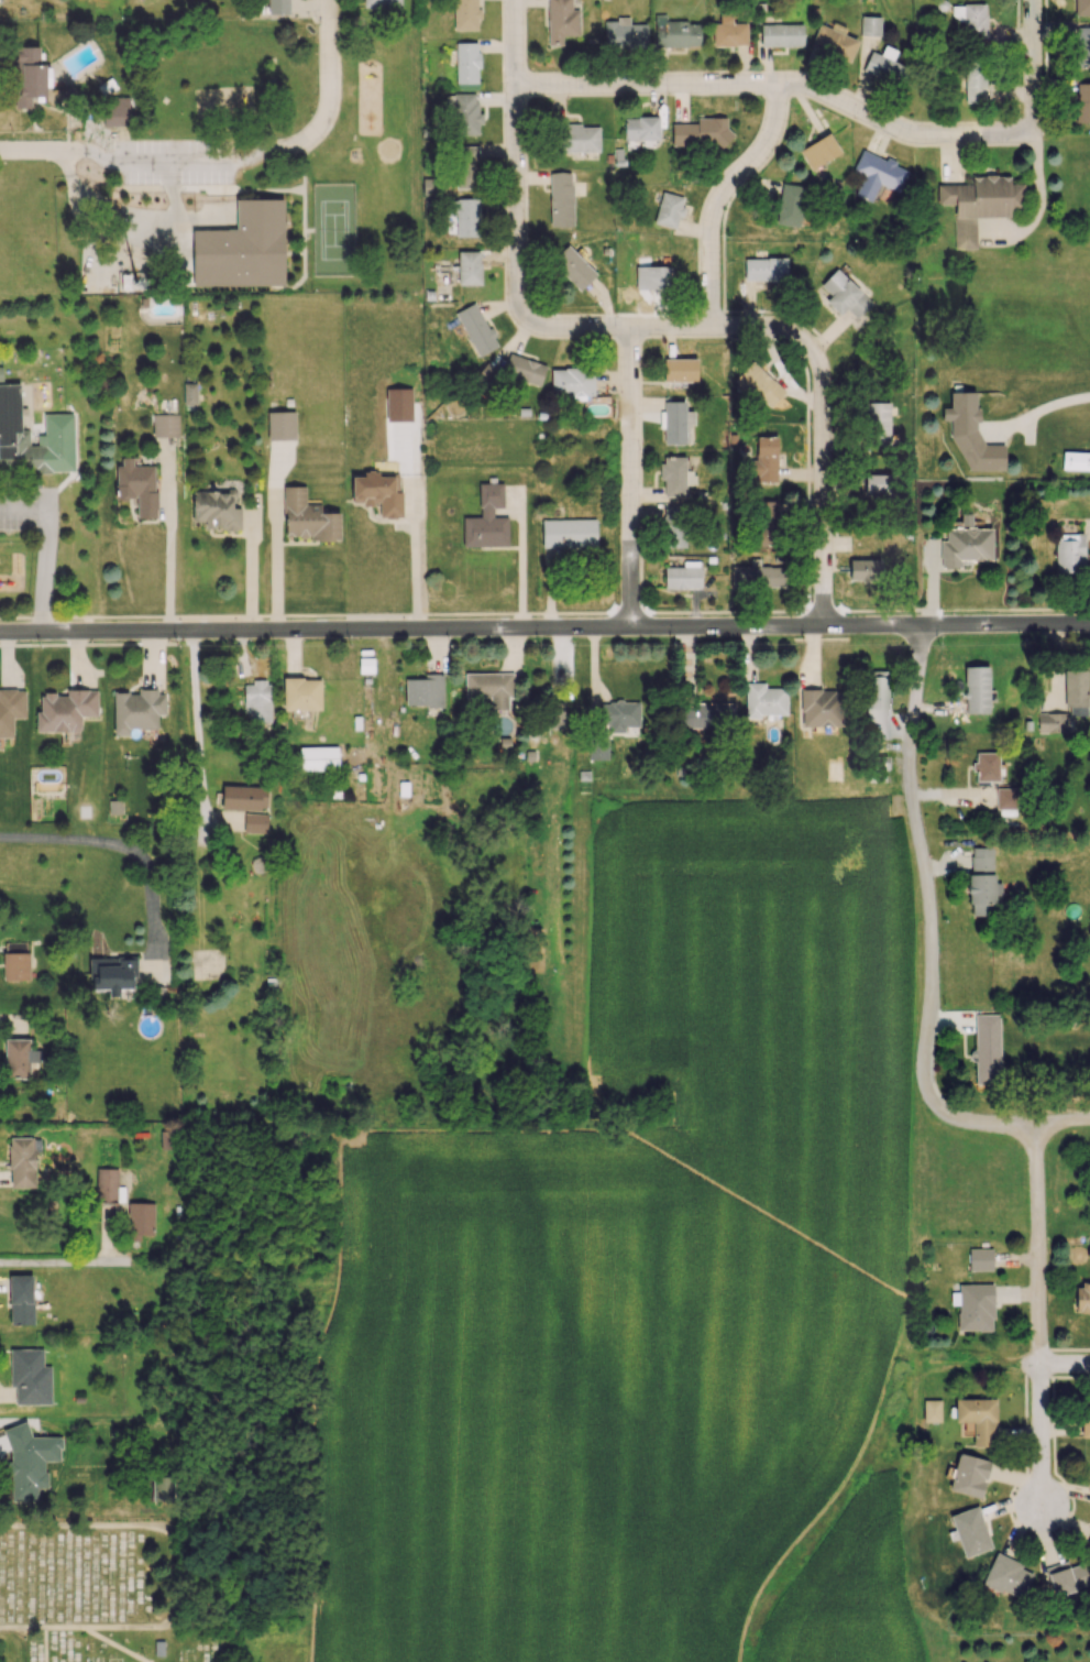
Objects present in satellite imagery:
building: (382, 3)
building: (278, 7)
building: (1082, 7)
building: (465, 14)
building: (971, 18)
building: (561, 20)
building: (870, 25)
road: (1031, 30)
building: (728, 32)
building: (624, 33)
building: (675, 33)
building: (781, 34)
building: (834, 41)
building: (1081, 47)
building: (466, 63)
building: (887, 69)
building: (30, 77)
building: (975, 83)
road: (327, 89)
road: (815, 91)
building: (1081, 102)
building: (115, 111)
road: (515, 111)
building: (466, 113)
building: (640, 128)
building: (701, 132)
building: (580, 138)
building: (818, 151)
road: (45, 153)
parking lot: (178, 162)
road: (185, 163)
building: (466, 166)
park: (231, 168)
building: (877, 174)
building: (431, 186)
building: (561, 198)
road: (722, 200)
road: (1037, 203)
building: (790, 204)
building: (979, 204)
building: (669, 209)
building: (466, 217)
park: (333, 230)
road: (101, 236)
building: (239, 258)
building: (469, 267)
building: (573, 267)
building: (764, 269)
building: (652, 277)
building: (844, 294)
building: (476, 329)
road: (759, 329)
building: (524, 369)
building: (680, 370)
building: (1, 374)
building: (572, 382)
building: (759, 385)
building: (189, 393)
building: (398, 404)
road: (1039, 406)
building: (58, 422)
building: (676, 422)
building: (165, 425)
building: (280, 425)
building: (879, 425)
building: (971, 435)
building: (766, 459)
building: (1076, 460)
building: (674, 474)
road: (632, 479)
building: (136, 485)
building: (879, 485)
building: (377, 493)
parking lot: (27, 510)
building: (214, 510)
road: (25, 513)
building: (307, 517)
building: (486, 520)
building: (764, 522)
building: (673, 526)
building: (568, 532)
building: (966, 544)
road: (170, 553)
building: (1069, 553)
road: (420, 559)
road: (279, 562)
road: (526, 566)
building: (865, 569)
road: (45, 572)
building: (682, 576)
building: (757, 576)
road: (544, 626)
building: (365, 665)
building: (489, 687)
building: (1075, 688)
building: (976, 689)
building: (423, 691)
building: (301, 693)
building: (764, 700)
building: (257, 702)
building: (876, 704)
building: (822, 708)
building: (11, 709)
building: (65, 710)
building: (136, 710)
building: (555, 713)
building: (707, 714)
building: (620, 715)
road: (198, 725)
building: (597, 747)
building: (318, 757)
building: (986, 766)
building: (877, 768)
building: (243, 797)
building: (1005, 798)
building: (114, 807)
building: (254, 822)
road: (118, 851)
building: (982, 882)
road: (932, 915)
building: (15, 965)
building: (113, 973)
building: (987, 1049)
building: (19, 1057)
road: (1064, 1124)
building: (22, 1159)
building: (106, 1185)
building: (141, 1218)
road: (74, 1259)
building: (980, 1259)
building: (1082, 1297)
building: (21, 1299)
building: (973, 1306)
road: (1039, 1317)
road: (1065, 1368)
building: (24, 1375)
building: (932, 1410)
building: (978, 1419)
building: (1086, 1421)
building: (29, 1459)
building: (969, 1475)
building: (163, 1488)
building: (970, 1531)
building: (1088, 1543)
building: (1006, 1575)
building: (1066, 1577)
road: (84, 1630)

